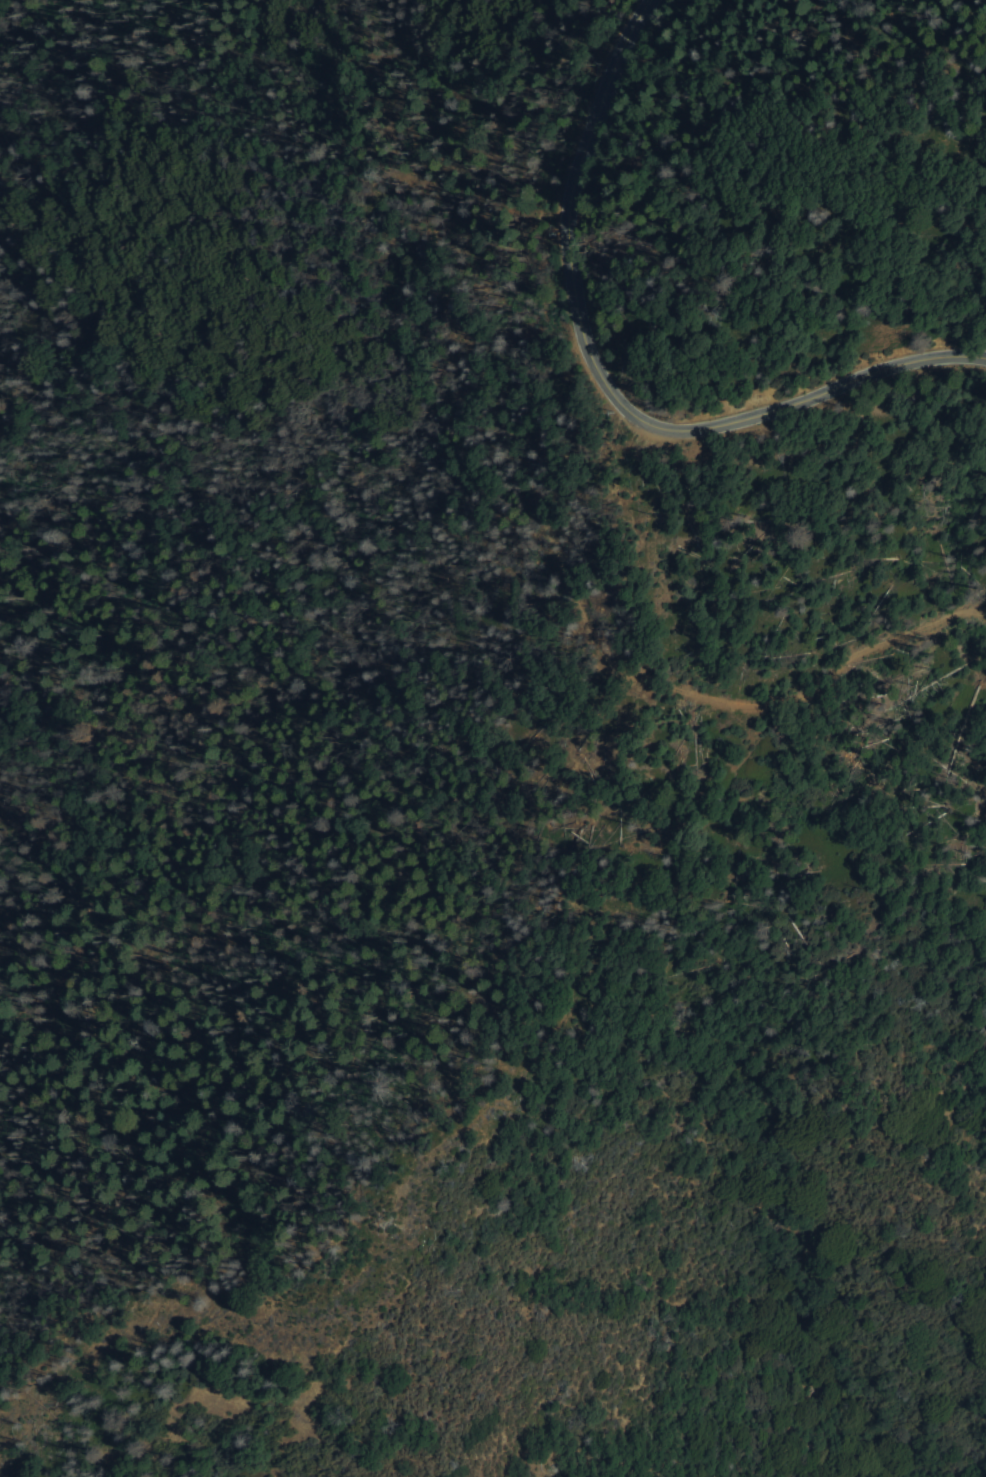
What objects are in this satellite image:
road: (607, 384)
road: (598, 649)

